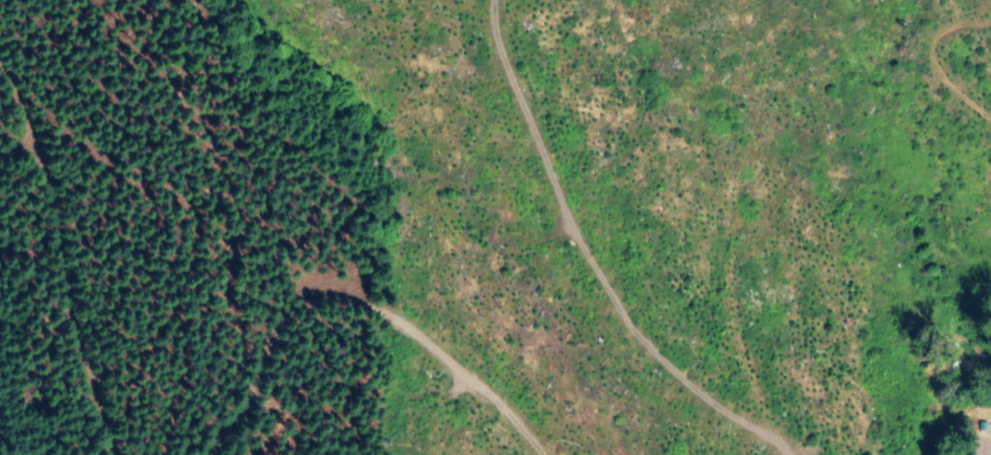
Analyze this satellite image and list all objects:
road: (974, 49)
road: (64, 269)

